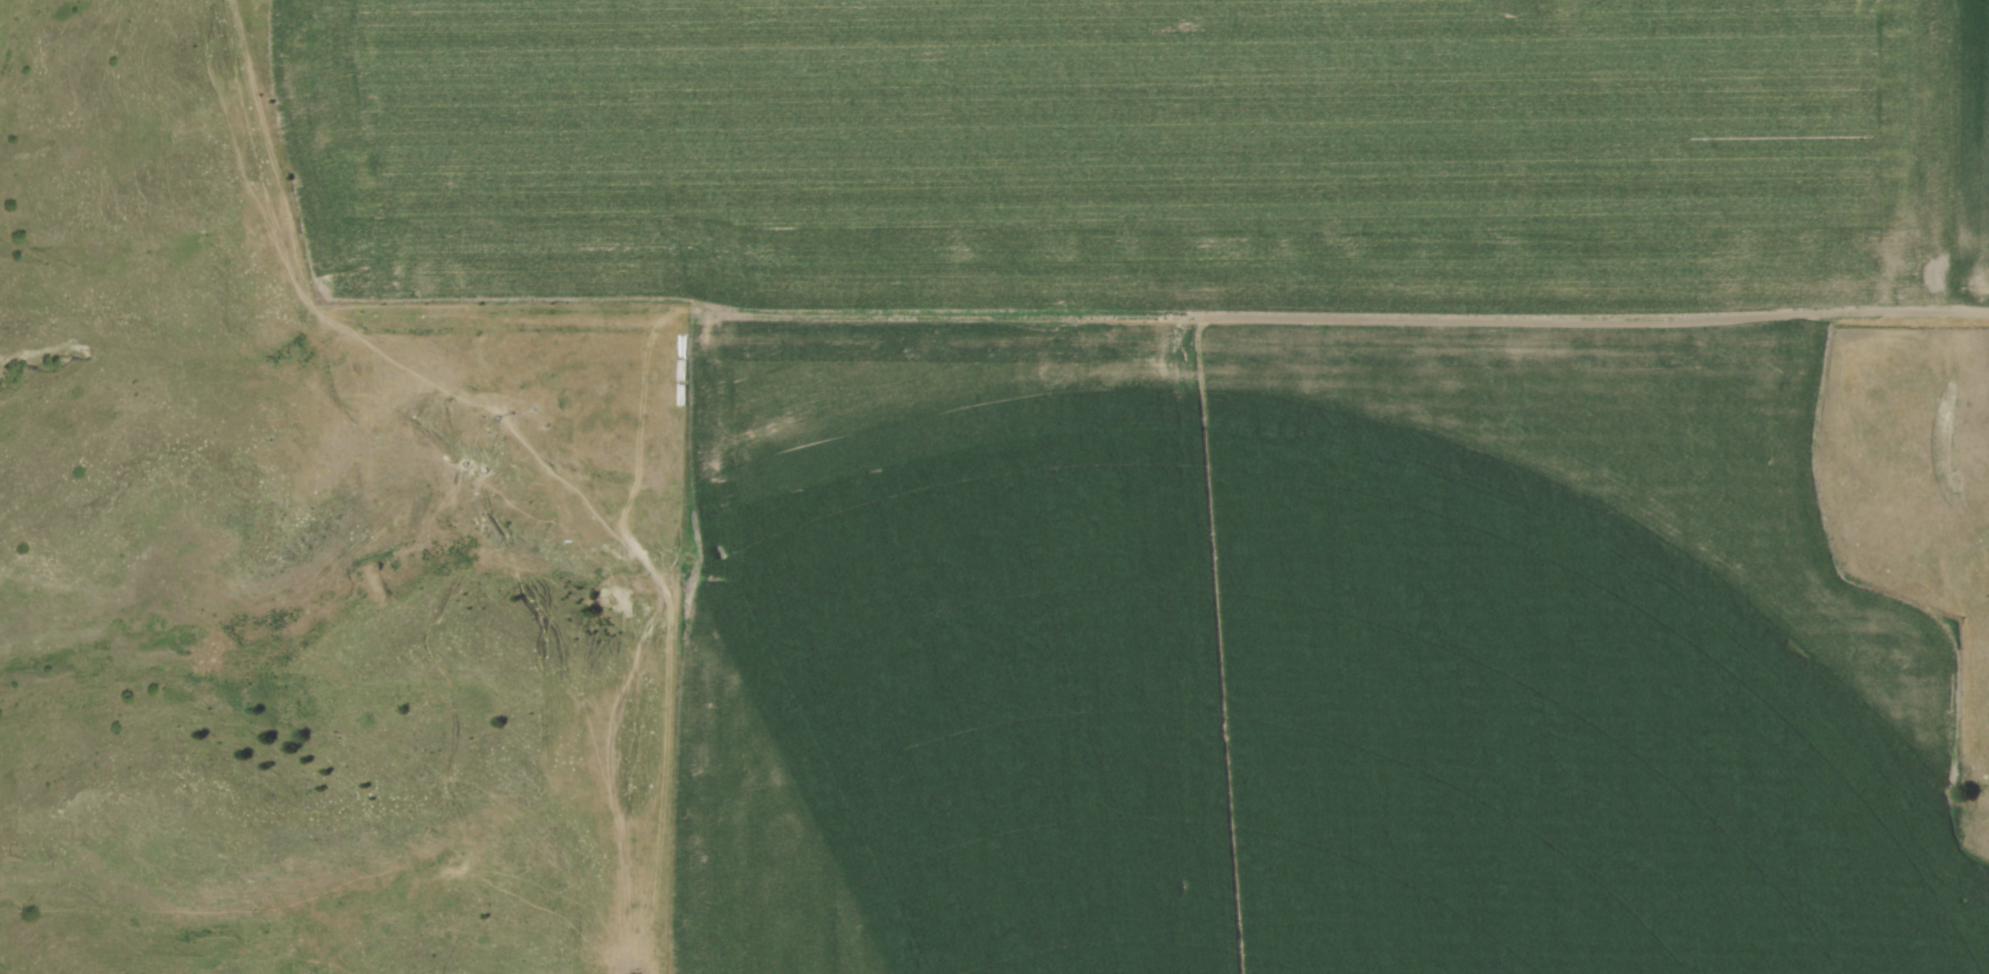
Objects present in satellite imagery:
crop: (1135, 149)

